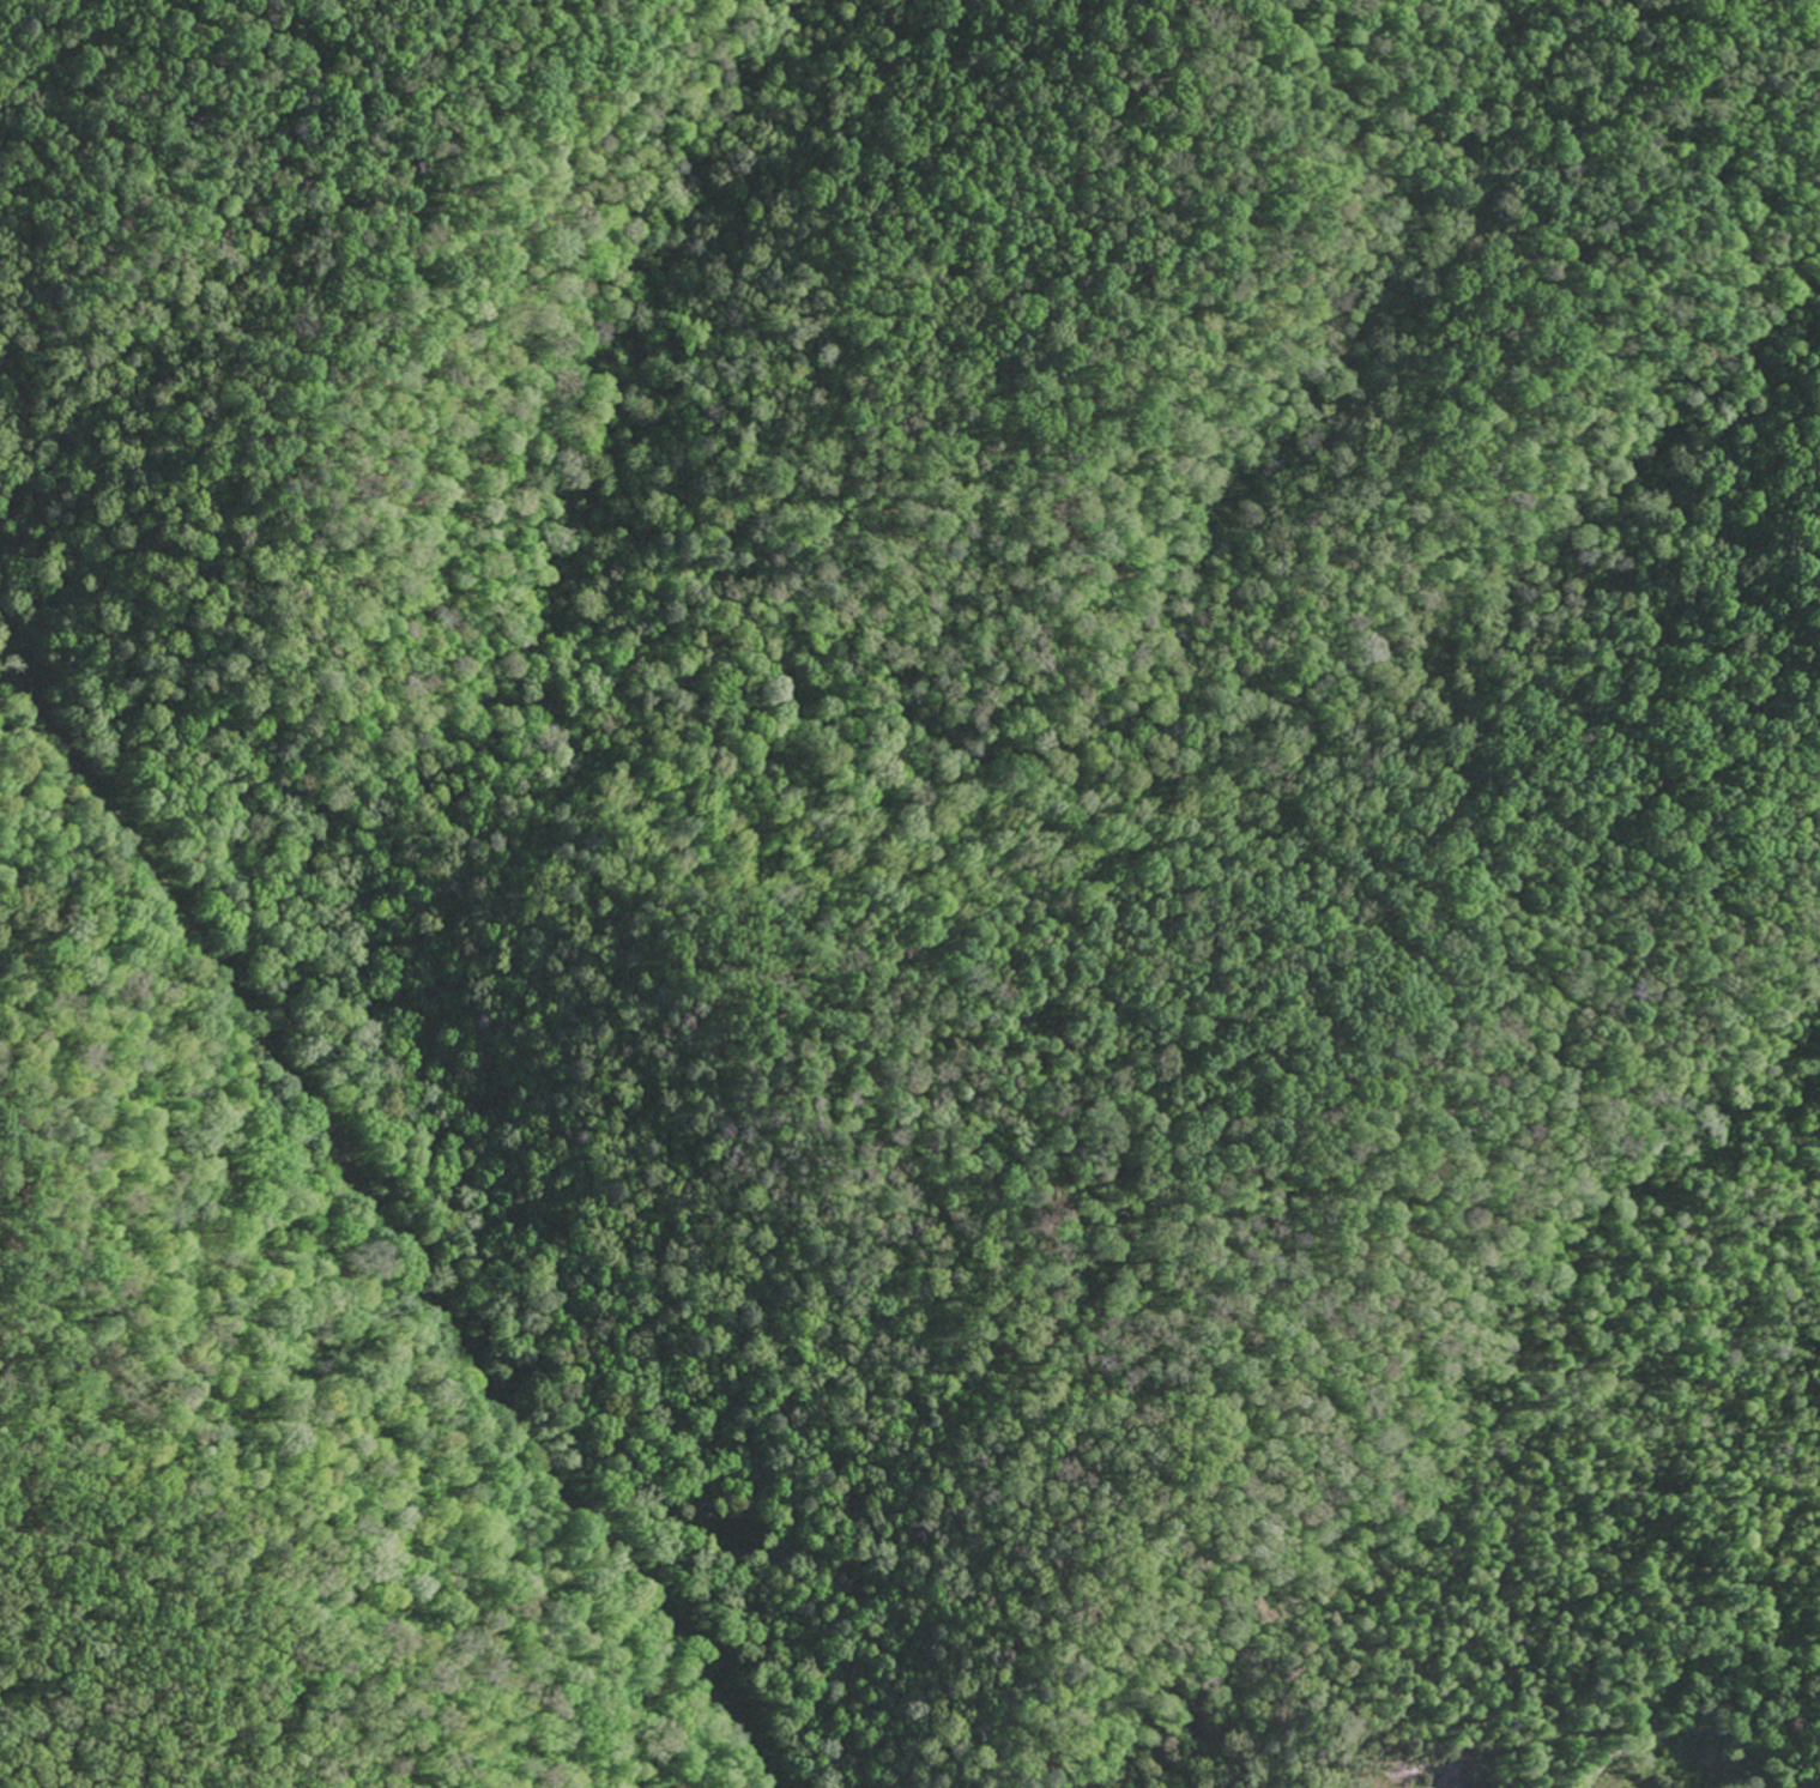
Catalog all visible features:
road: (1700, 1727)

